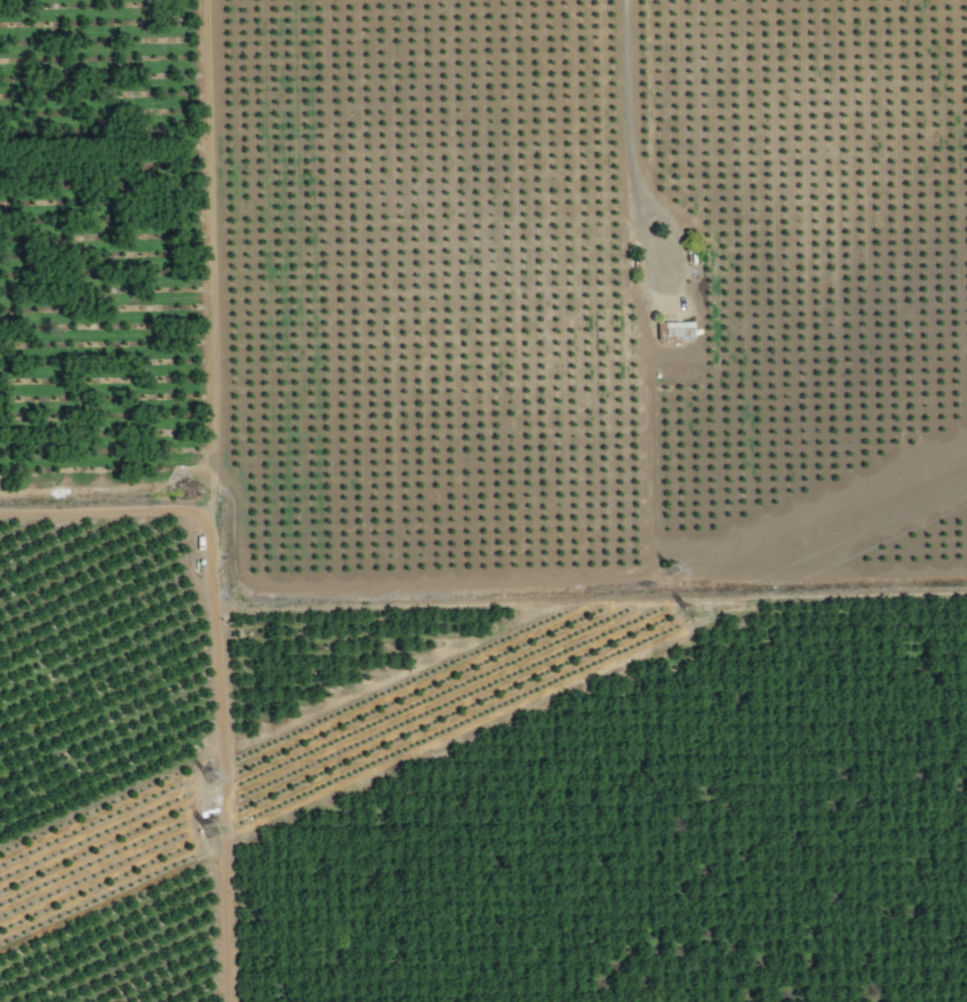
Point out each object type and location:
road: (633, 143)
power tower: (666, 574)
power tower: (685, 617)
power tower: (208, 782)
power tower: (204, 832)

